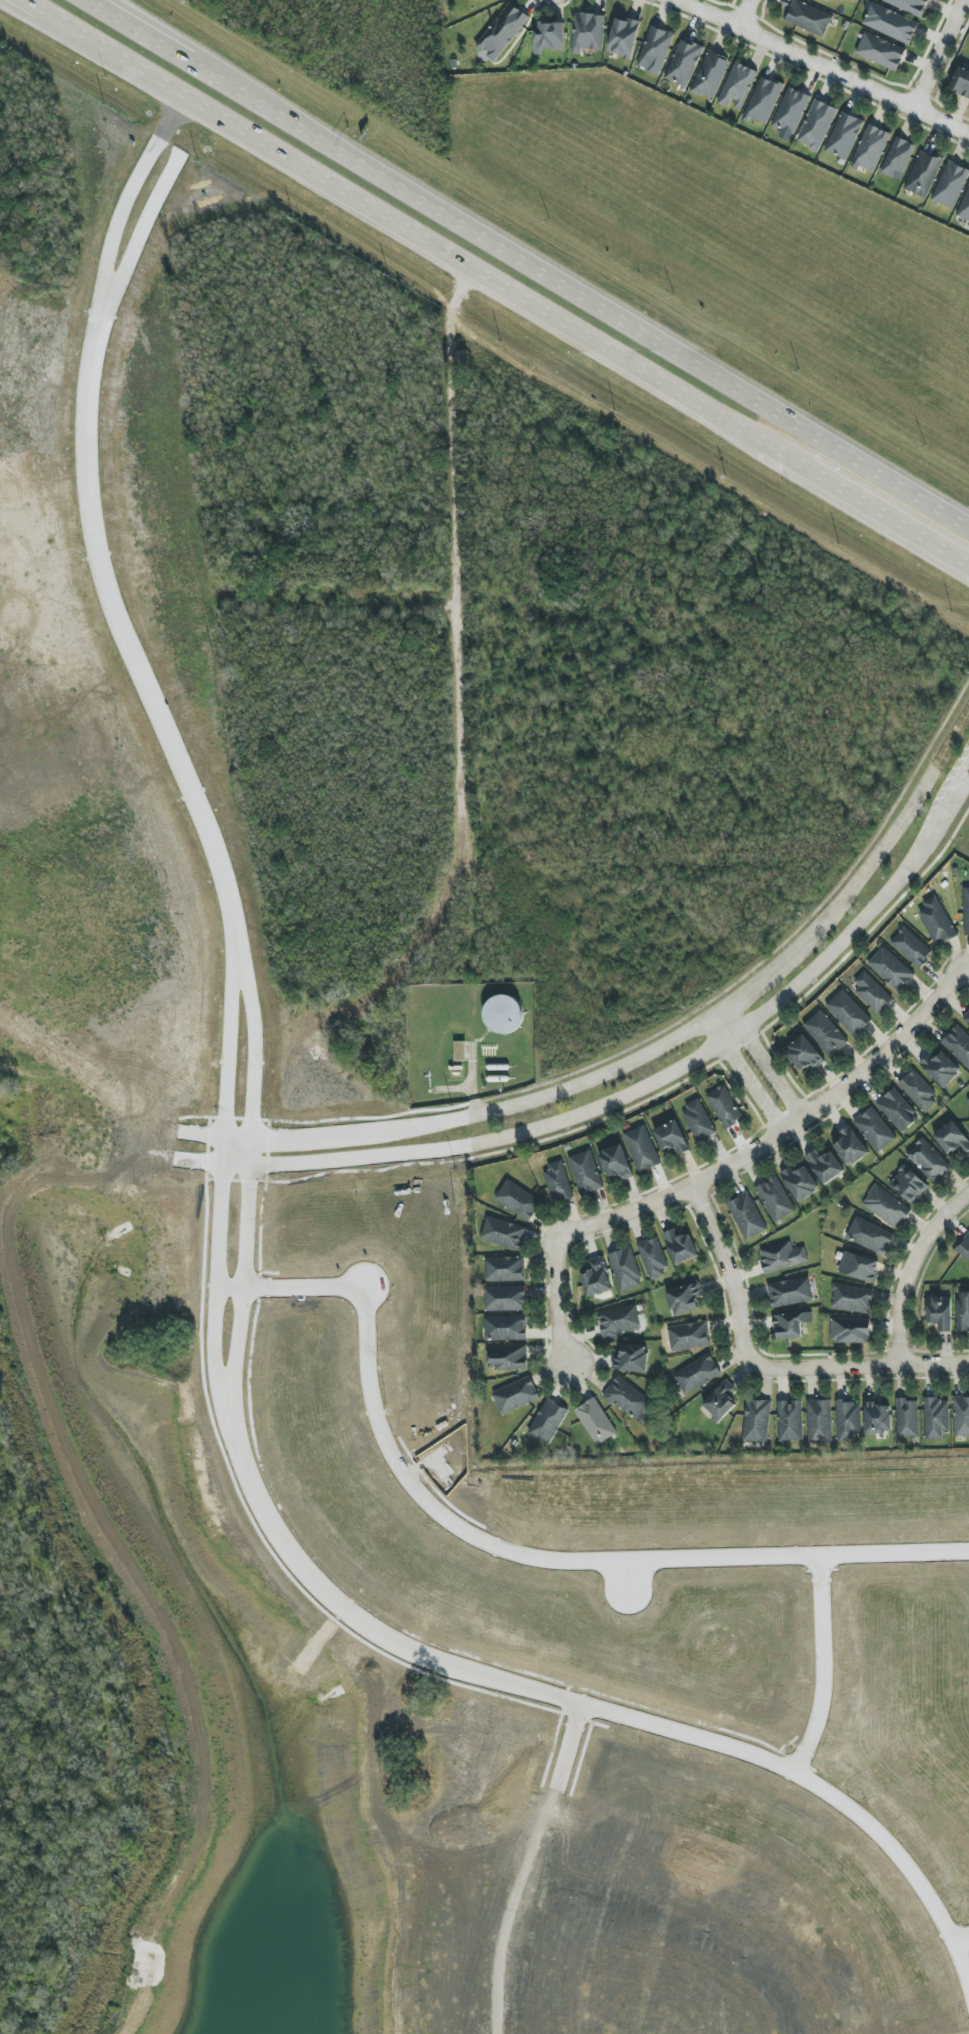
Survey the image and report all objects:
building: (841, 0)
building: (908, 5)
road: (743, 12)
road: (50, 15)
building: (809, 18)
road: (37, 19)
building: (890, 23)
building: (502, 32)
building: (588, 32)
building: (548, 37)
building: (623, 38)
road: (185, 43)
road: (166, 49)
building: (655, 50)
building: (880, 51)
road: (937, 53)
road: (129, 63)
building: (683, 63)
road: (821, 64)
building: (710, 74)
building: (961, 81)
building: (737, 86)
building: (763, 100)
building: (791, 109)
building: (817, 125)
building: (844, 136)
building: (870, 148)
building: (898, 159)
building: (923, 174)
building: (950, 185)
building: (965, 207)
road: (470, 267)
road: (608, 314)
road: (99, 316)
road: (864, 502)
road: (457, 549)
road: (125, 633)
building: (966, 911)
building: (936, 921)
building: (911, 947)
road: (237, 949)
building: (891, 969)
road: (968, 969)
building: (871, 991)
building: (848, 1013)
water tower: (502, 1014)
building: (503, 1014)
building: (966, 1018)
building: (825, 1033)
road: (665, 1041)
building: (958, 1044)
building: (460, 1051)
building: (804, 1054)
road: (759, 1063)
building: (941, 1068)
road: (743, 1073)
road: (470, 1079)
road: (656, 1080)
road: (450, 1089)
building: (919, 1091)
building: (968, 1102)
building: (724, 1106)
building: (898, 1110)
building: (698, 1120)
building: (874, 1130)
building: (672, 1137)
building: (952, 1139)
road: (221, 1146)
building: (850, 1147)
building: (641, 1149)
building: (928, 1160)
building: (615, 1163)
road: (727, 1163)
building: (825, 1166)
building: (585, 1172)
building: (800, 1181)
building: (558, 1182)
building: (908, 1185)
building: (775, 1199)
building: (518, 1200)
building: (886, 1207)
building: (746, 1216)
building: (503, 1233)
building: (870, 1236)
building: (680, 1247)
building: (964, 1248)
building: (653, 1257)
building: (782, 1257)
building: (859, 1267)
road: (910, 1268)
building: (504, 1269)
building: (625, 1269)
building: (596, 1278)
building: (790, 1292)
building: (504, 1298)
building: (852, 1298)
building: (684, 1299)
building: (940, 1312)
building: (963, 1313)
building: (619, 1321)
building: (790, 1325)
building: (505, 1328)
building: (850, 1330)
building: (688, 1336)
building: (507, 1357)
building: (632, 1357)
road: (767, 1366)
building: (696, 1374)
building: (515, 1396)
building: (626, 1397)
building: (720, 1400)
building: (961, 1416)
building: (878, 1418)
building: (906, 1418)
building: (935, 1418)
building: (547, 1420)
building: (756, 1420)
building: (789, 1420)
building: (847, 1420)
building: (595, 1421)
building: (819, 1421)
road: (231, 1431)
road: (501, 1547)
road: (627, 1572)
road: (823, 1665)
road: (598, 1708)
road: (527, 1866)
road: (961, 1935)

